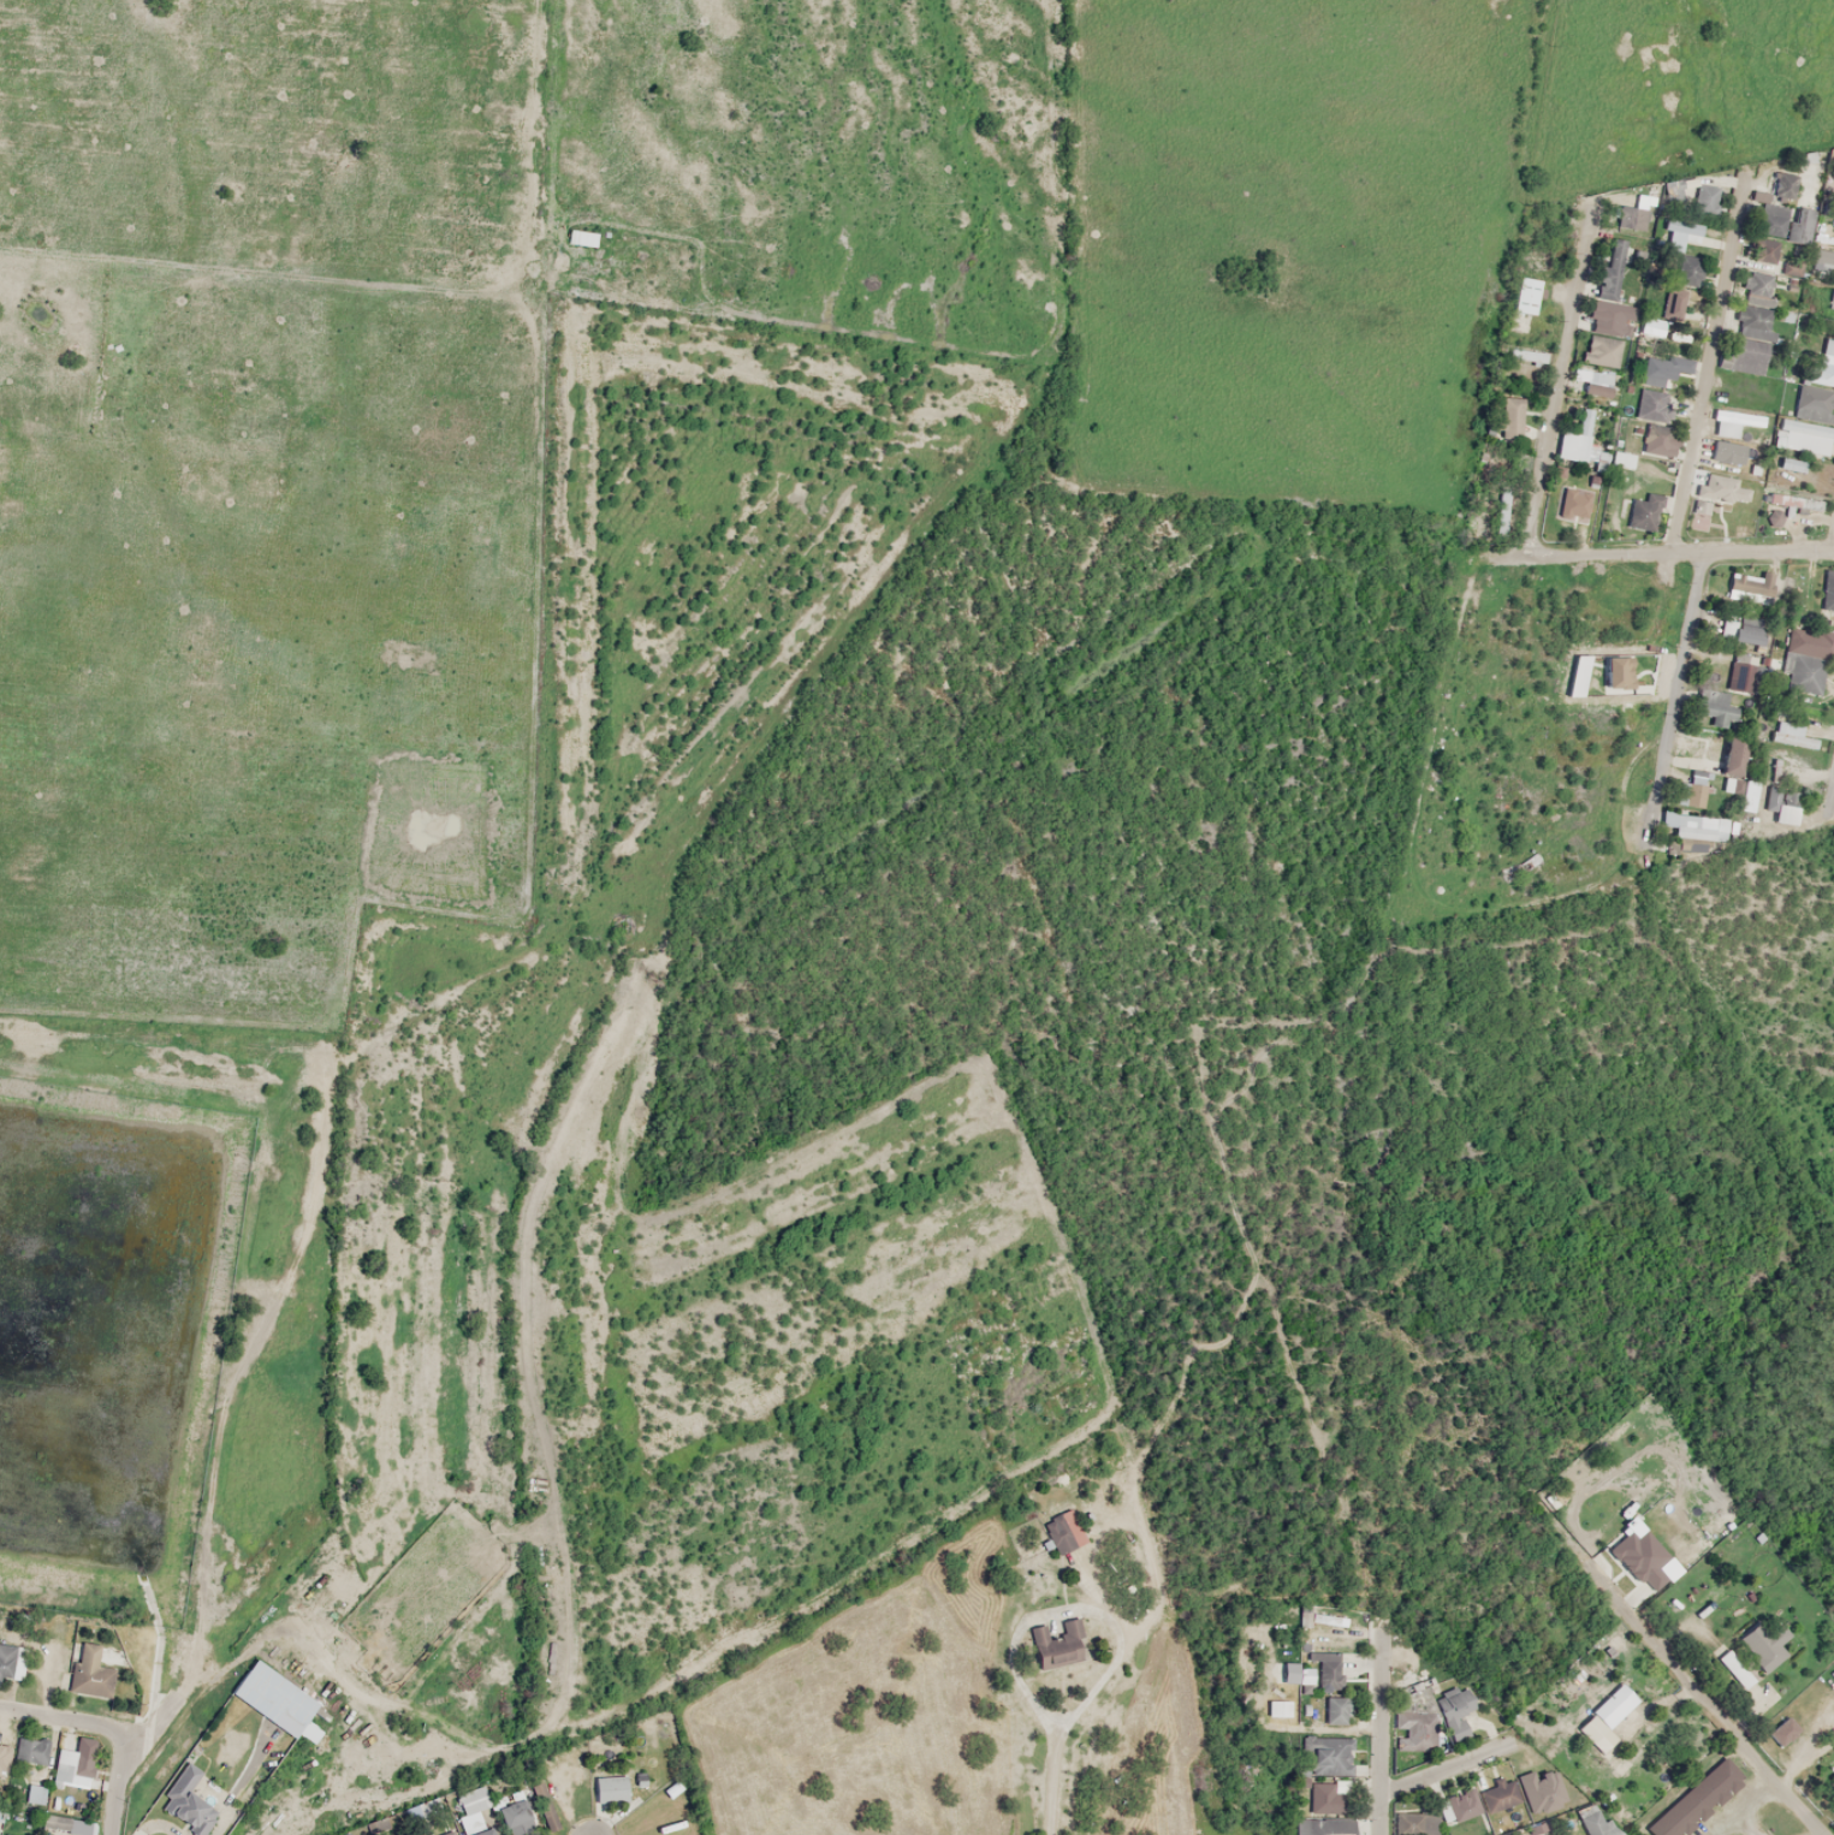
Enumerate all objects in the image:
building: (1672, 190)
building: (1799, 225)
building: (1768, 233)
building: (1822, 263)
building: (1610, 271)
building: (1687, 271)
building: (1524, 296)
building: (1664, 313)
building: (1751, 325)
building: (1518, 355)
road: (1709, 363)
building: (1661, 369)
road: (1560, 379)
building: (1593, 385)
building: (1817, 387)
building: (1651, 405)
building: (1510, 417)
building: (1726, 424)
building: (1583, 434)
building: (1803, 435)
building: (1726, 464)
building: (1723, 488)
building: (1573, 503)
building: (1644, 511)
building: (1502, 512)
road: (1833, 545)
road: (1655, 554)
building: (1753, 586)
building: (1741, 629)
building: (1616, 672)
building: (1803, 673)
building: (1741, 676)
road: (1674, 699)
building: (1713, 708)
building: (1725, 752)
building: (1691, 791)
building: (1747, 795)
road: (1830, 797)
building: (1783, 803)
building: (1694, 826)
building: (1056, 1645)
building: (12, 1661)
building: (1328, 1669)
building: (90, 1673)
building: (274, 1689)
building: (1335, 1710)
building: (1454, 1711)
road: (64, 1715)
road: (1384, 1733)
building: (31, 1750)
building: (1330, 1756)
building: (79, 1763)
road: (1446, 1769)
road: (112, 1780)
road: (1052, 1783)
building: (610, 1788)
building: (35, 1794)
building: (182, 1795)
building: (1326, 1798)
road: (1790, 1799)
building: (1696, 1800)
building: (1450, 1807)
building: (474, 1810)
building: (67, 1824)
building: (1323, 1827)
building: (5, 1834)
building: (445, 1834)

